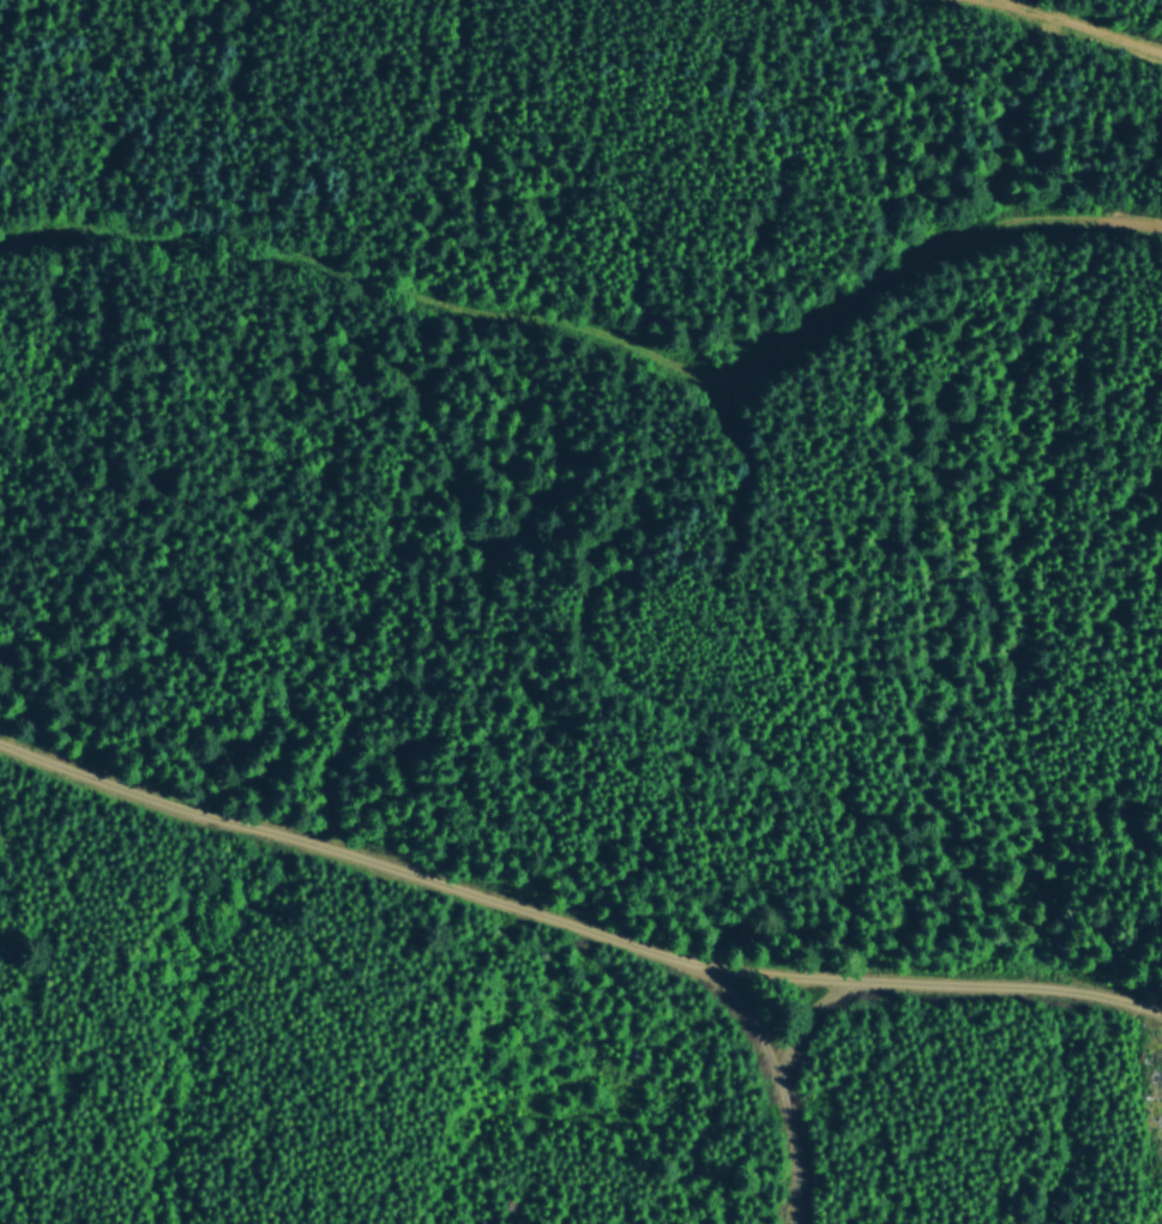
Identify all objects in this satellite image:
road: (1077, 26)
road: (596, 330)
road: (597, 603)
road: (570, 925)
road: (802, 1018)
road: (779, 1081)

